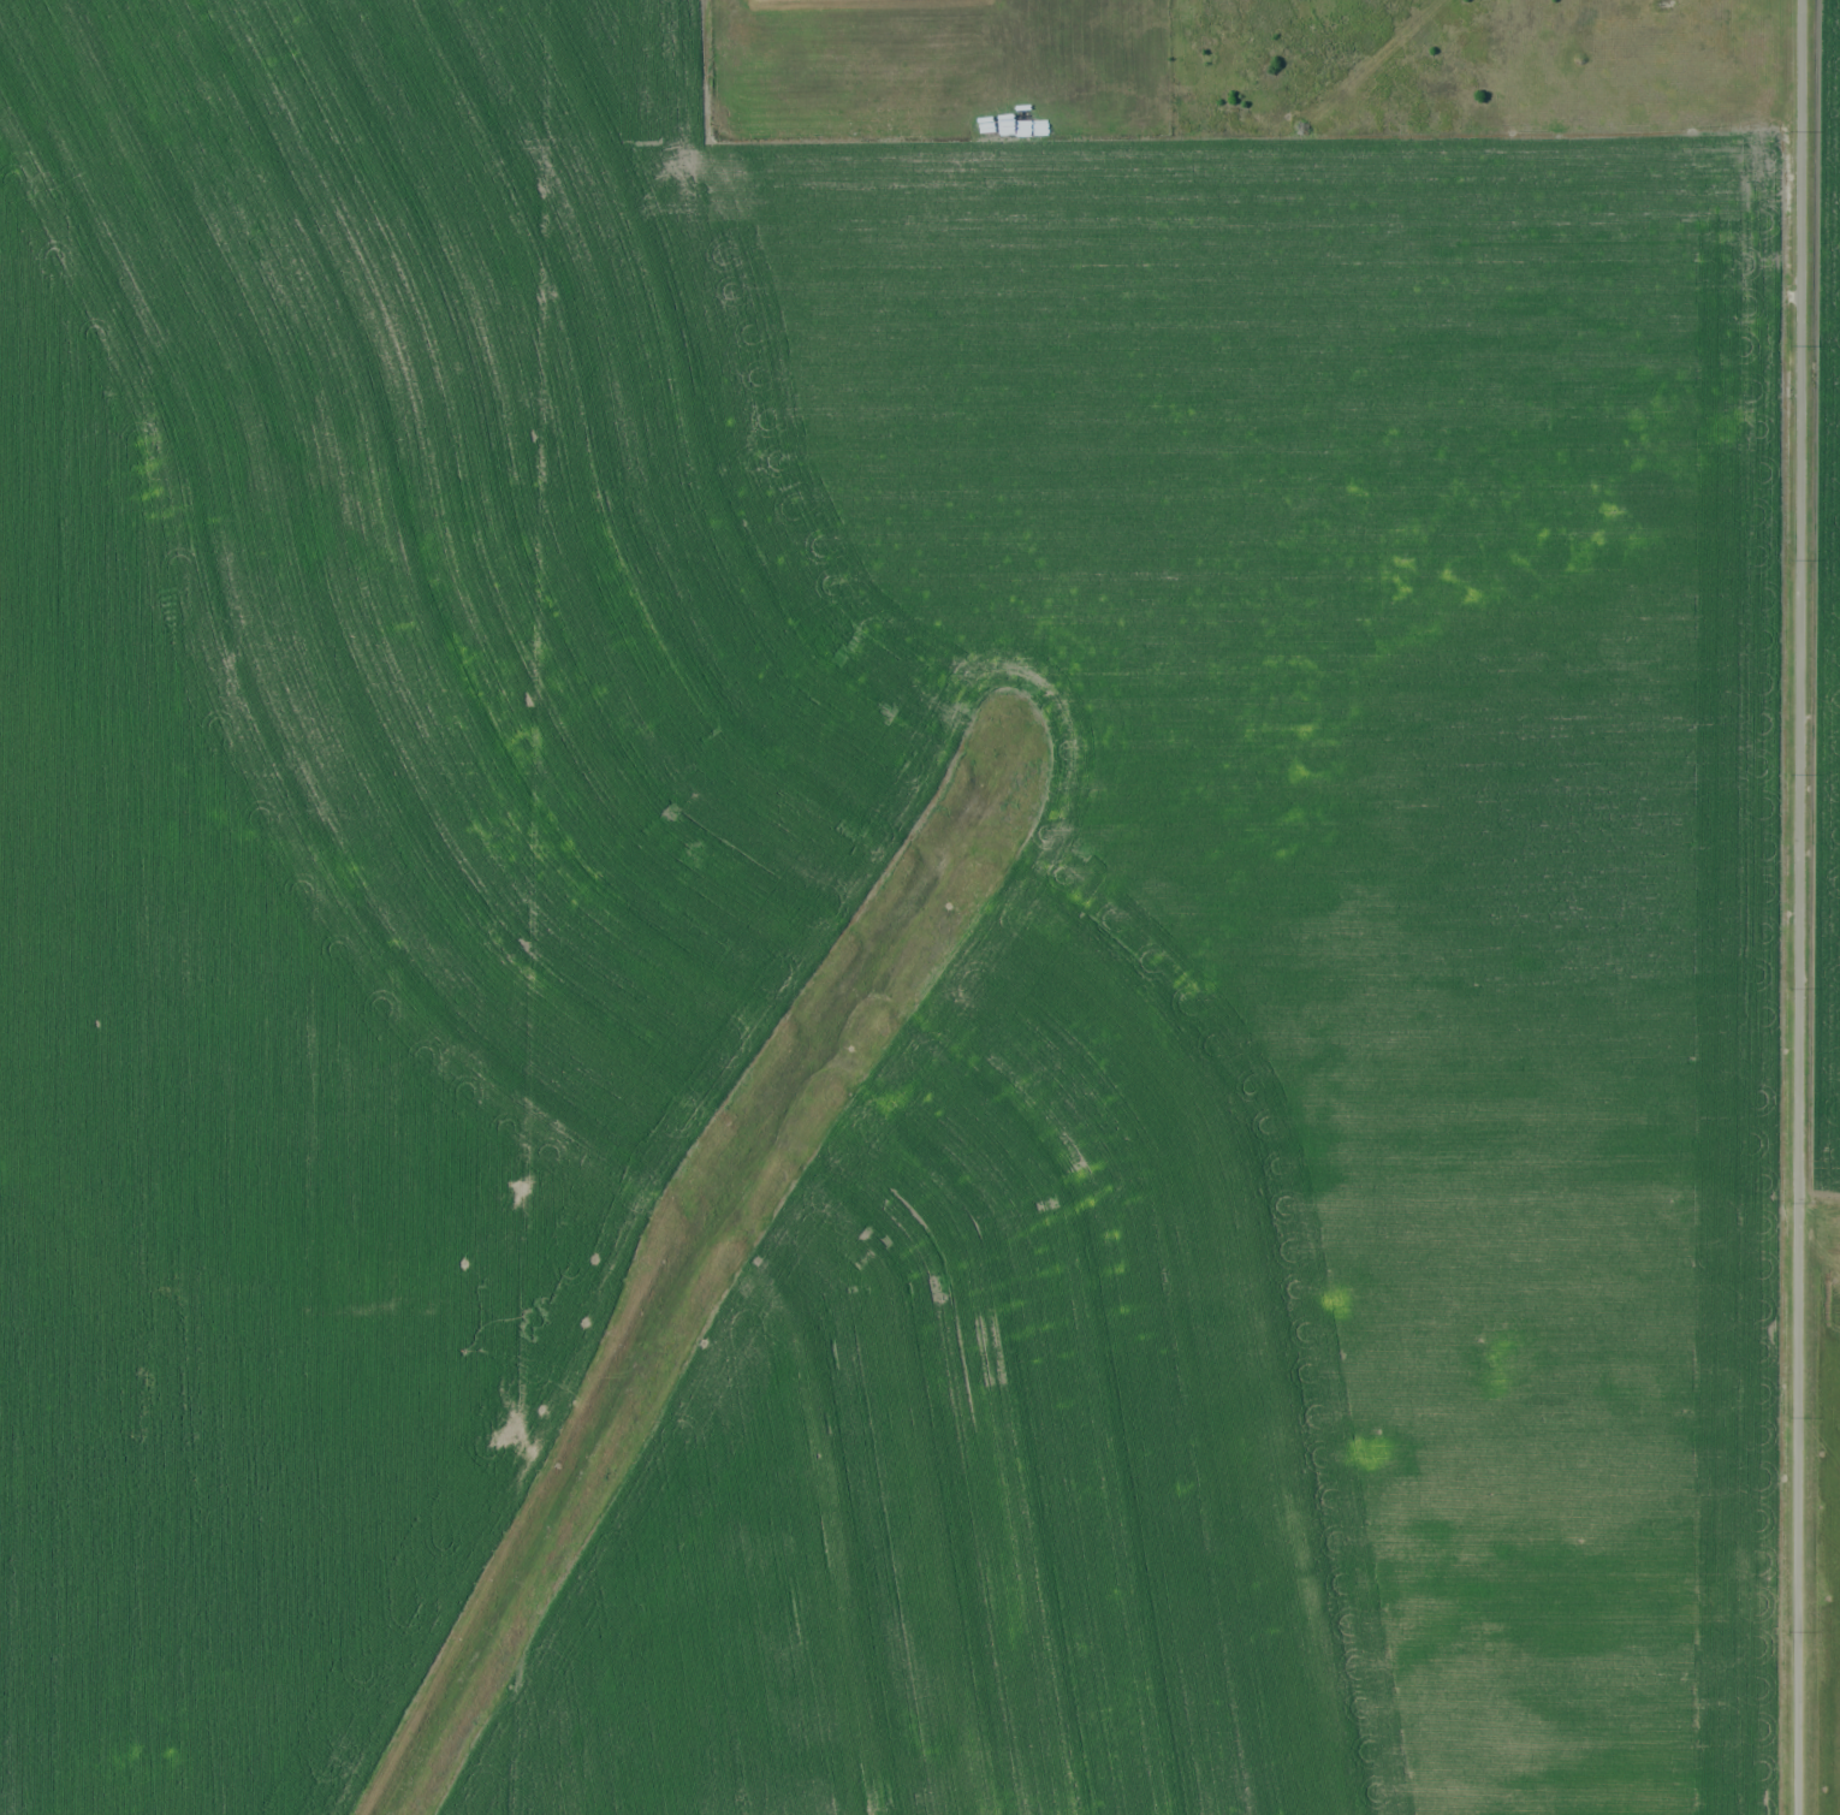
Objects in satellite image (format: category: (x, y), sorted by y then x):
road: (1798, 907)

